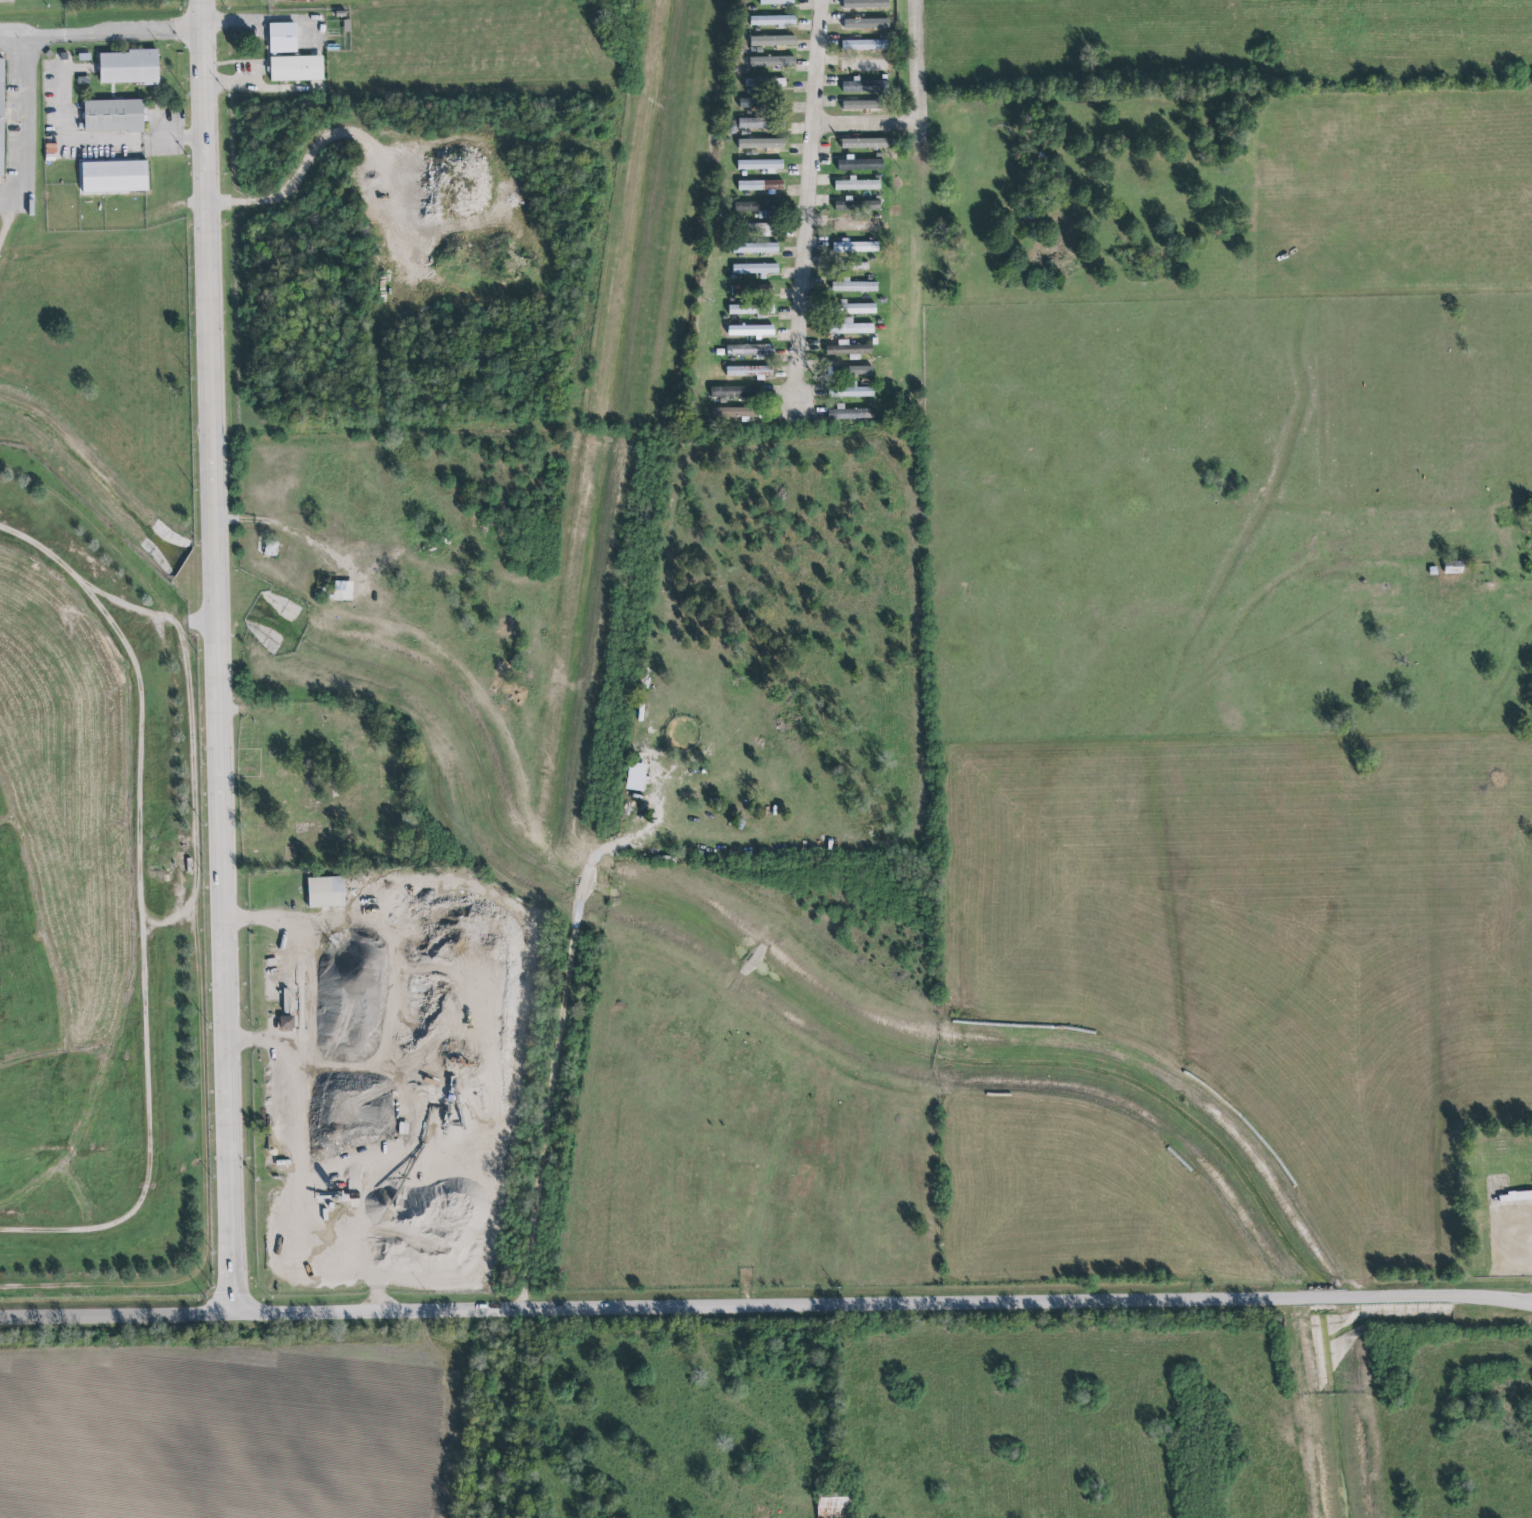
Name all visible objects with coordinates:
building: (305, 1)
building: (776, 2)
building: (867, 4)
road: (258, 18)
building: (774, 20)
building: (863, 23)
road: (134, 30)
road: (48, 36)
building: (281, 36)
road: (16, 39)
building: (766, 41)
building: (860, 44)
building: (767, 60)
building: (864, 64)
building: (296, 67)
building: (131, 68)
road: (919, 73)
building: (765, 83)
building: (862, 85)
building: (749, 103)
building: (861, 106)
building: (2, 114)
building: (113, 114)
building: (761, 123)
road: (867, 123)
road: (102, 139)
building: (859, 143)
building: (762, 144)
building: (861, 164)
building: (759, 165)
building: (114, 175)
building: (760, 185)
building: (855, 185)
road: (809, 199)
building: (752, 206)
building: (764, 215)
building: (855, 225)
building: (758, 229)
building: (853, 246)
building: (755, 248)
building: (755, 269)
building: (854, 287)
building: (855, 309)
building: (853, 327)
building: (748, 330)
building: (848, 349)
building: (751, 350)
building: (850, 370)
building: (749, 371)
building: (732, 392)
building: (855, 392)
building: (850, 414)
building: (731, 415)
road: (286, 528)
road: (118, 541)
building: (1454, 566)
building: (343, 590)
road: (148, 625)
road: (219, 656)
building: (636, 776)
park: (327, 787)
building: (326, 891)
road: (152, 911)
building: (286, 1022)
road: (263, 1041)
road: (201, 1054)
road: (296, 1107)
building: (1515, 1196)
road: (1517, 1235)
road: (765, 1302)
building: (834, 1506)

